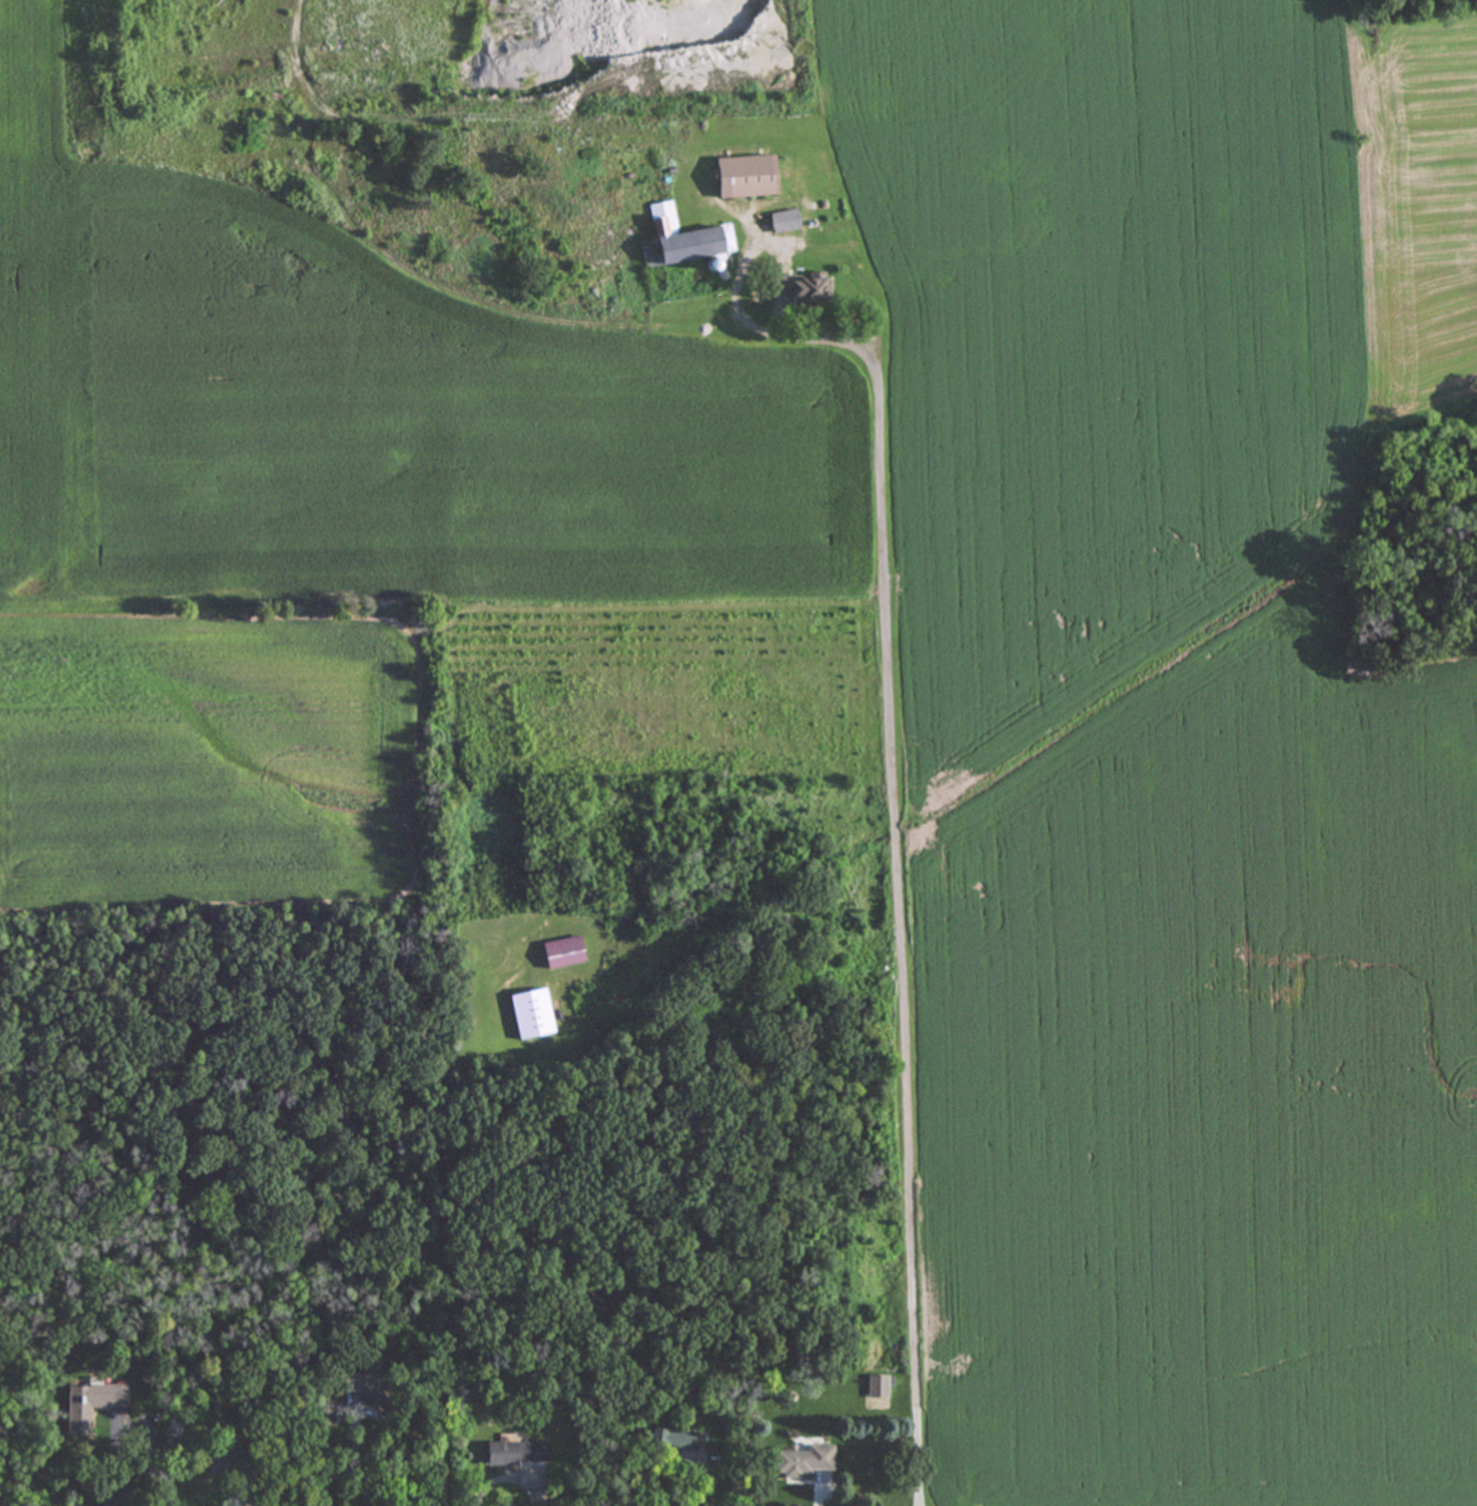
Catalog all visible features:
quarry: (426, 71)
building: (743, 177)
building: (783, 221)
building: (684, 237)
building: (798, 290)
building: (475, 506)
road: (898, 850)
building: (562, 953)
building: (531, 1015)
road: (447, 1273)
building: (360, 1387)
building: (876, 1387)
building: (89, 1405)
building: (671, 1441)
road: (357, 1452)
building: (516, 1455)
building: (802, 1462)
building: (223, 1466)
road: (508, 1475)

